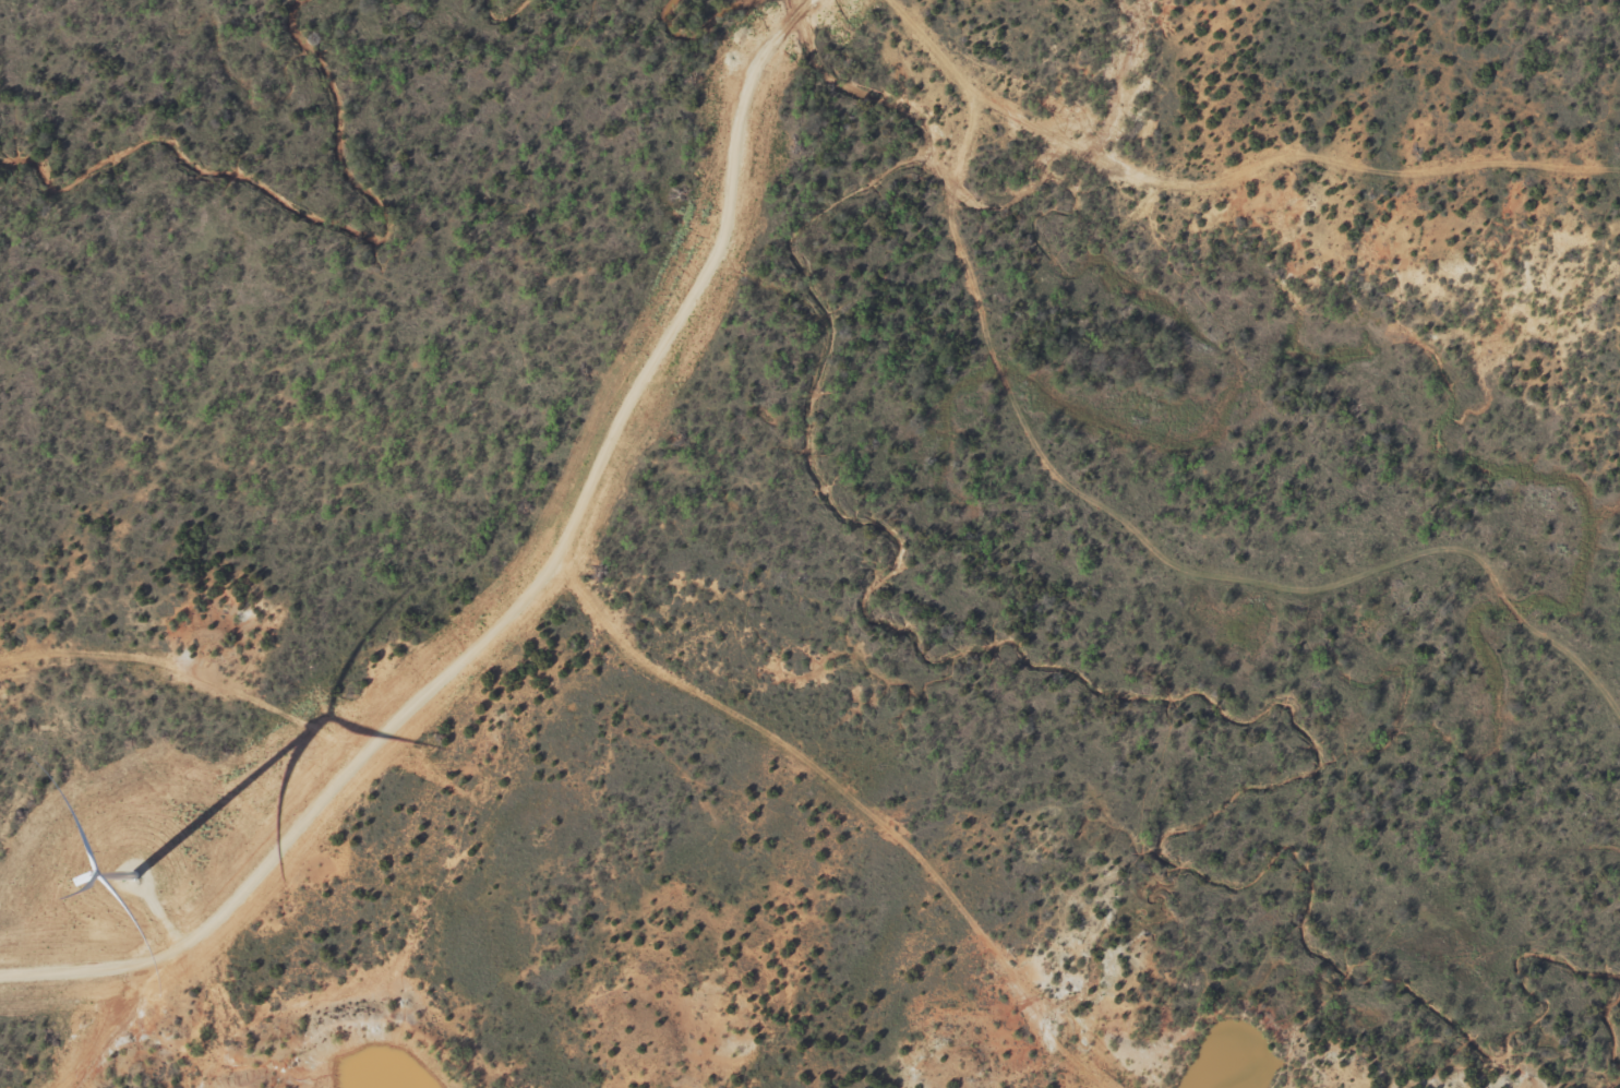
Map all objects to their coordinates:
road: (826, 2)
road: (956, 240)
road: (549, 617)
road: (159, 690)
wind turbine: (131, 886)

